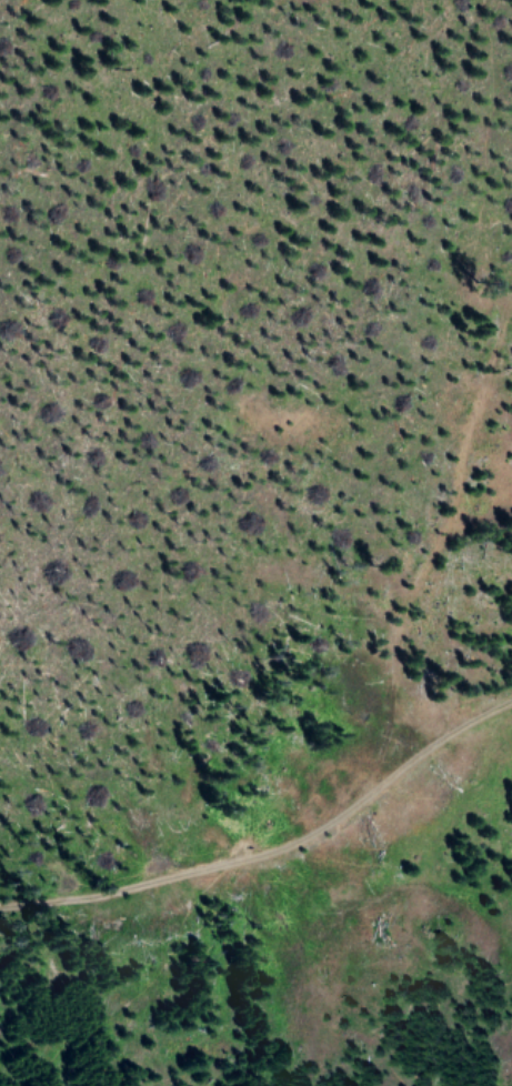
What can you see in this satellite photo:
road: (274, 882)

